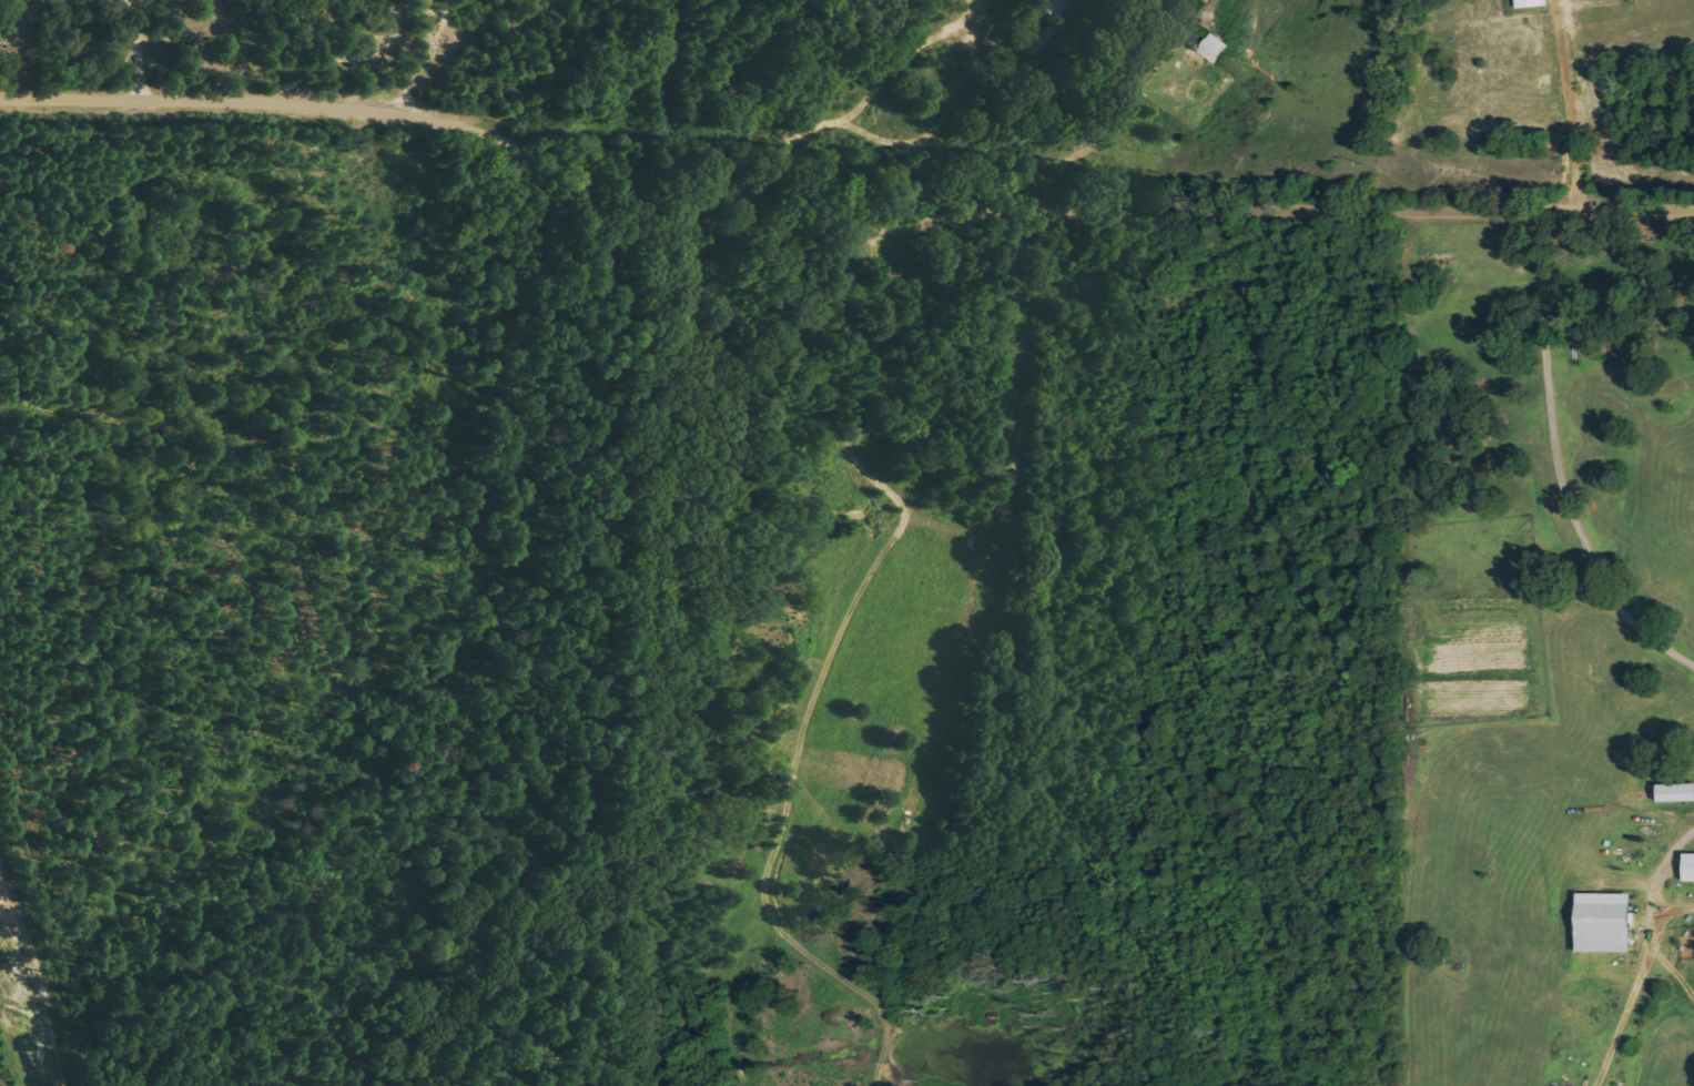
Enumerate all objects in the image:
building: (1529, 3)
building: (1051, 8)
road: (839, 225)
building: (1675, 793)
building: (1688, 867)
building: (1603, 923)

